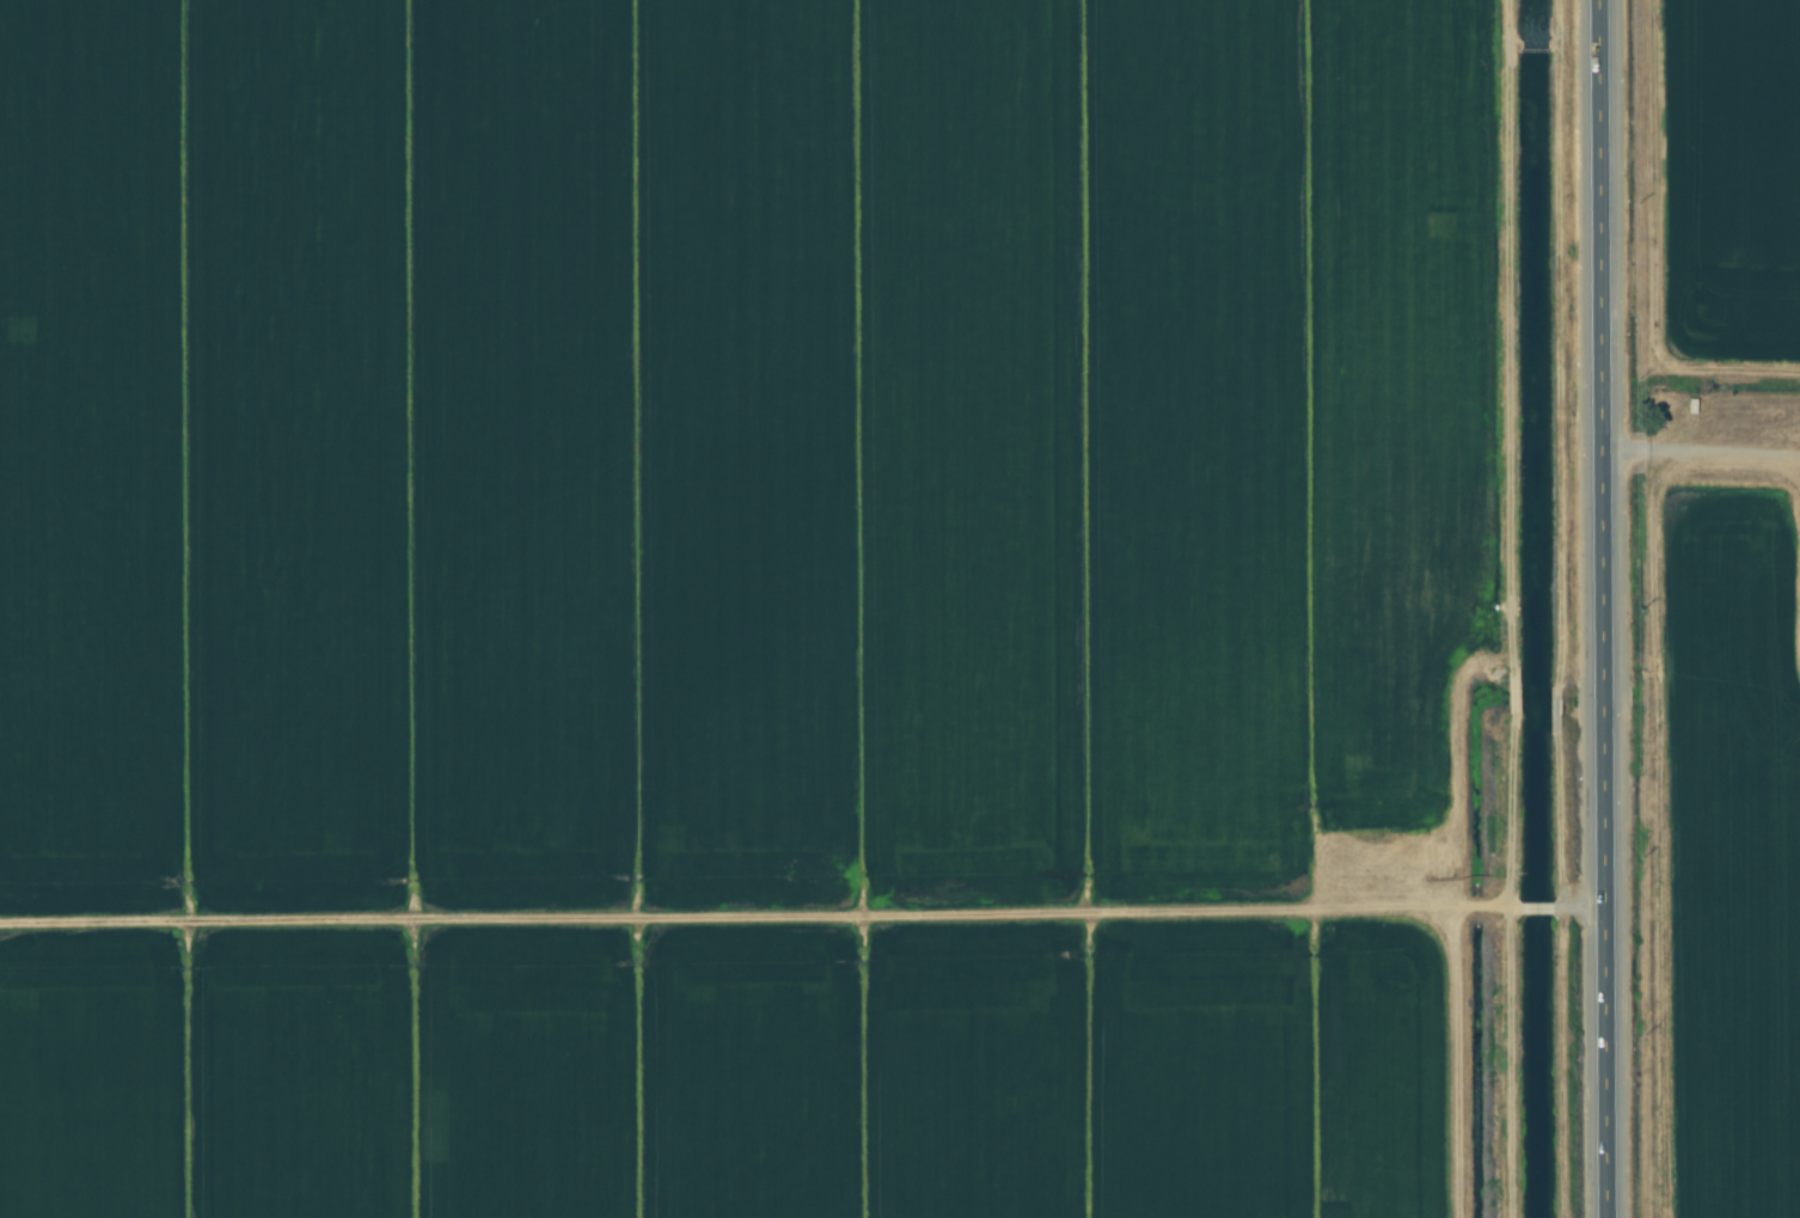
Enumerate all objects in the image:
road: (1600, 608)

